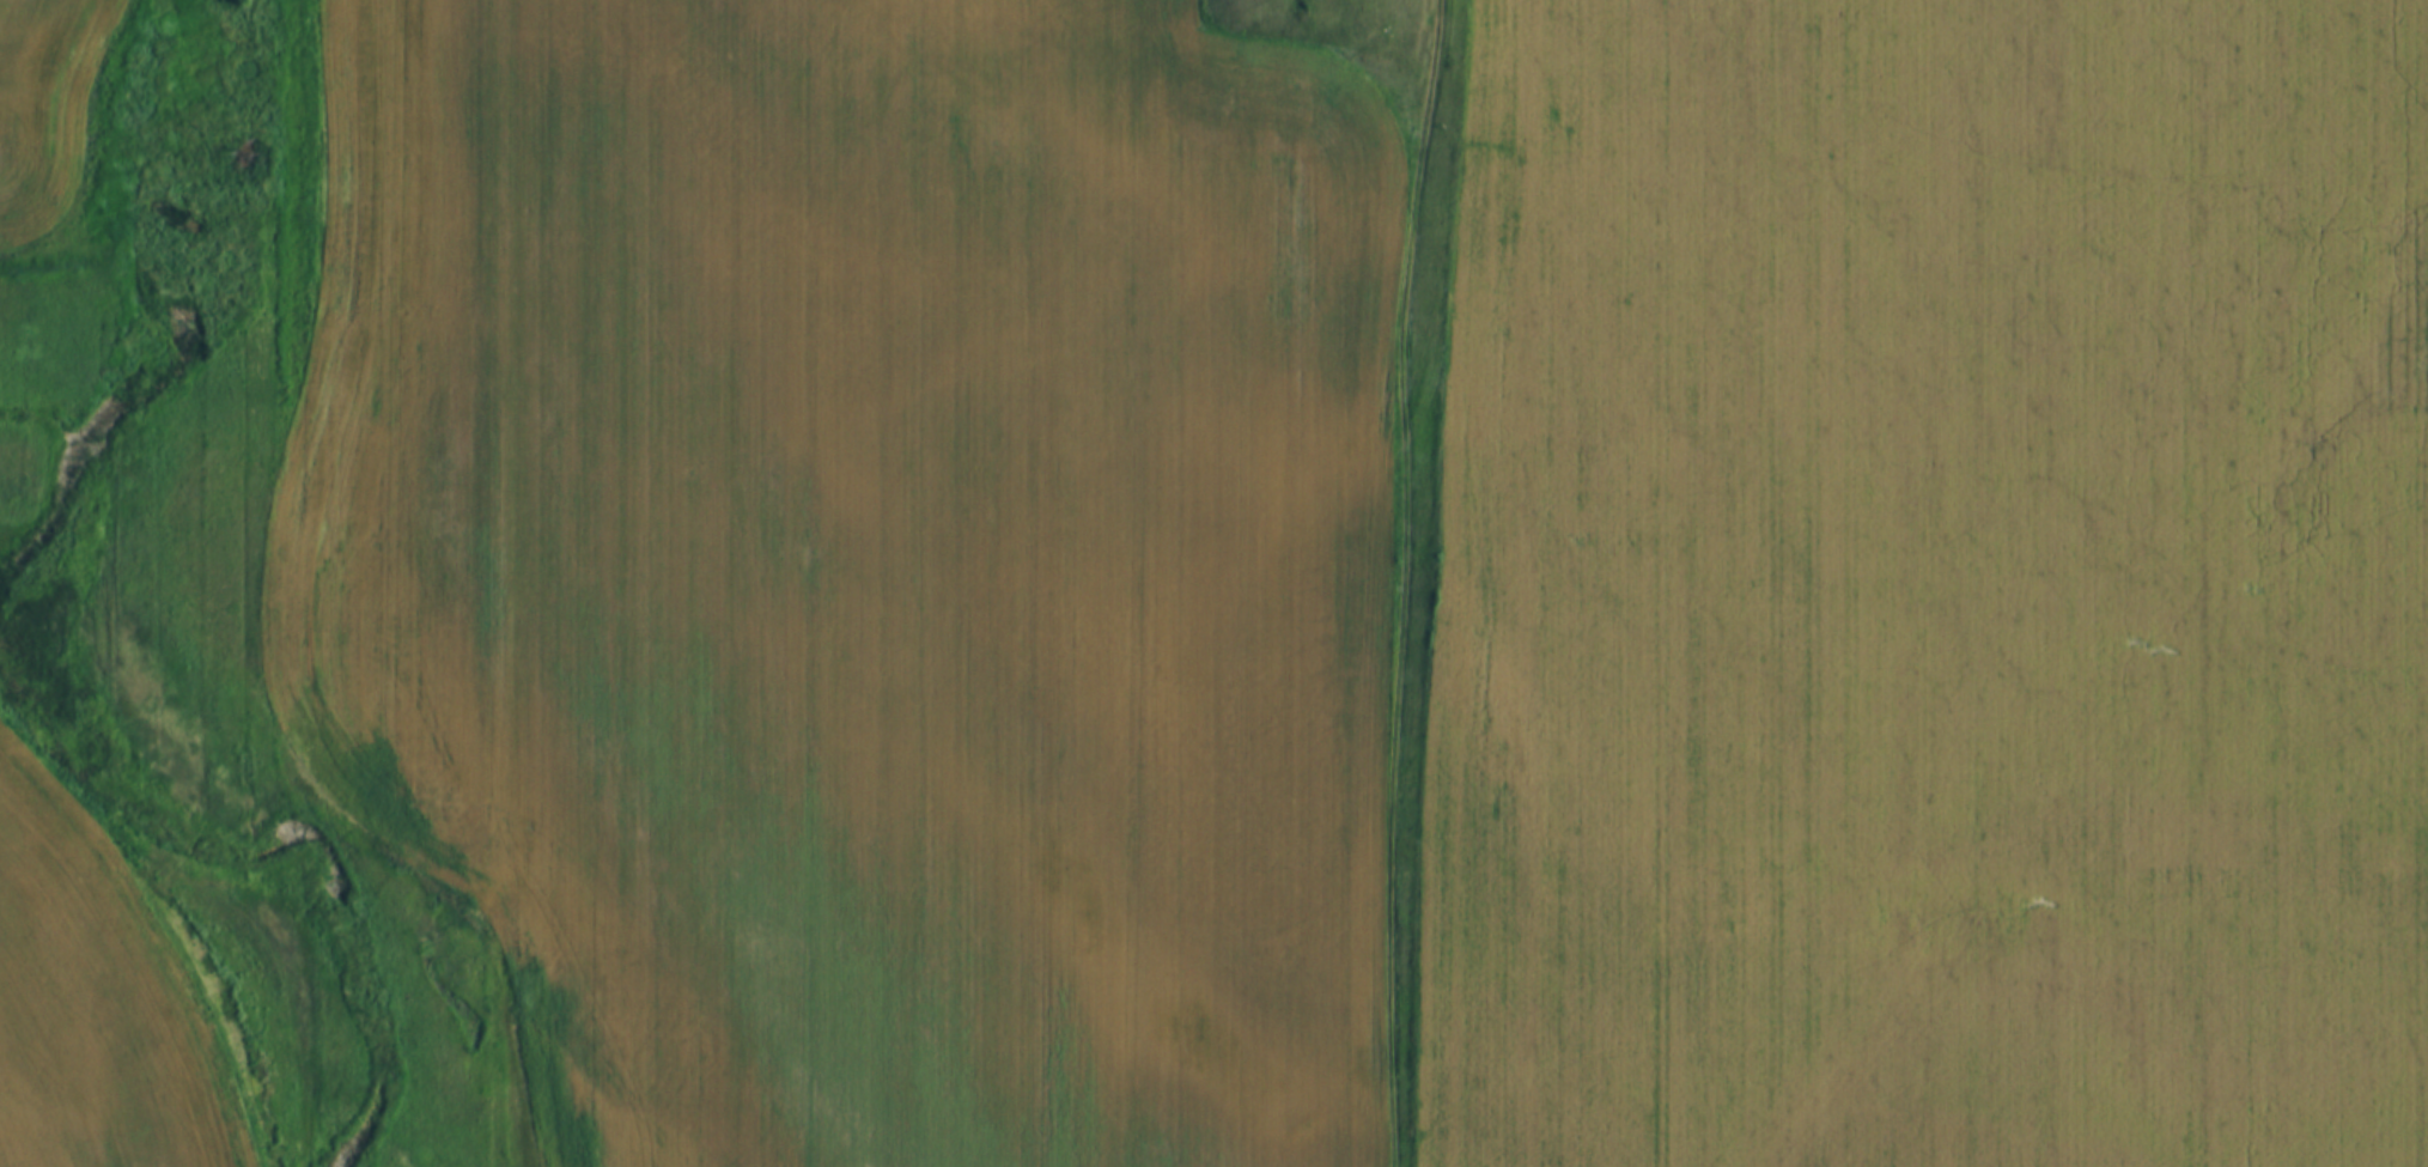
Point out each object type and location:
road: (1401, 582)

